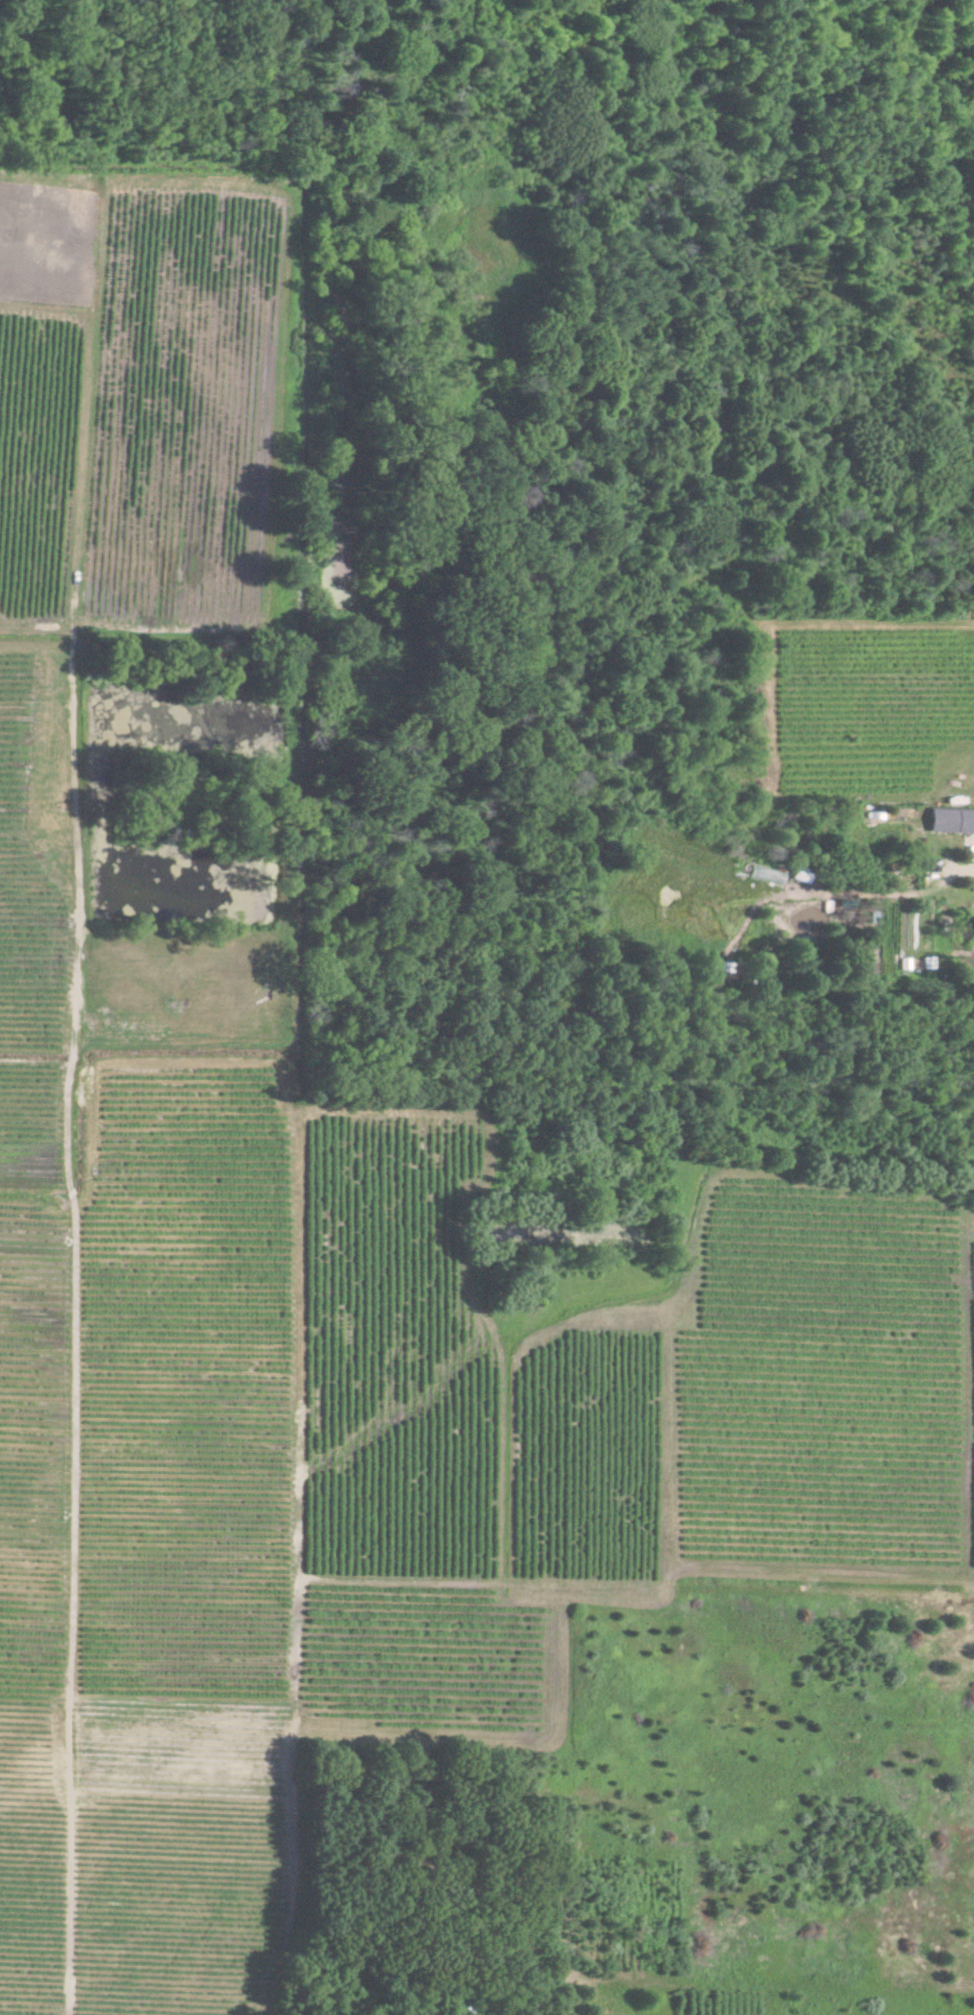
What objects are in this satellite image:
building: (950, 821)
road: (969, 867)

